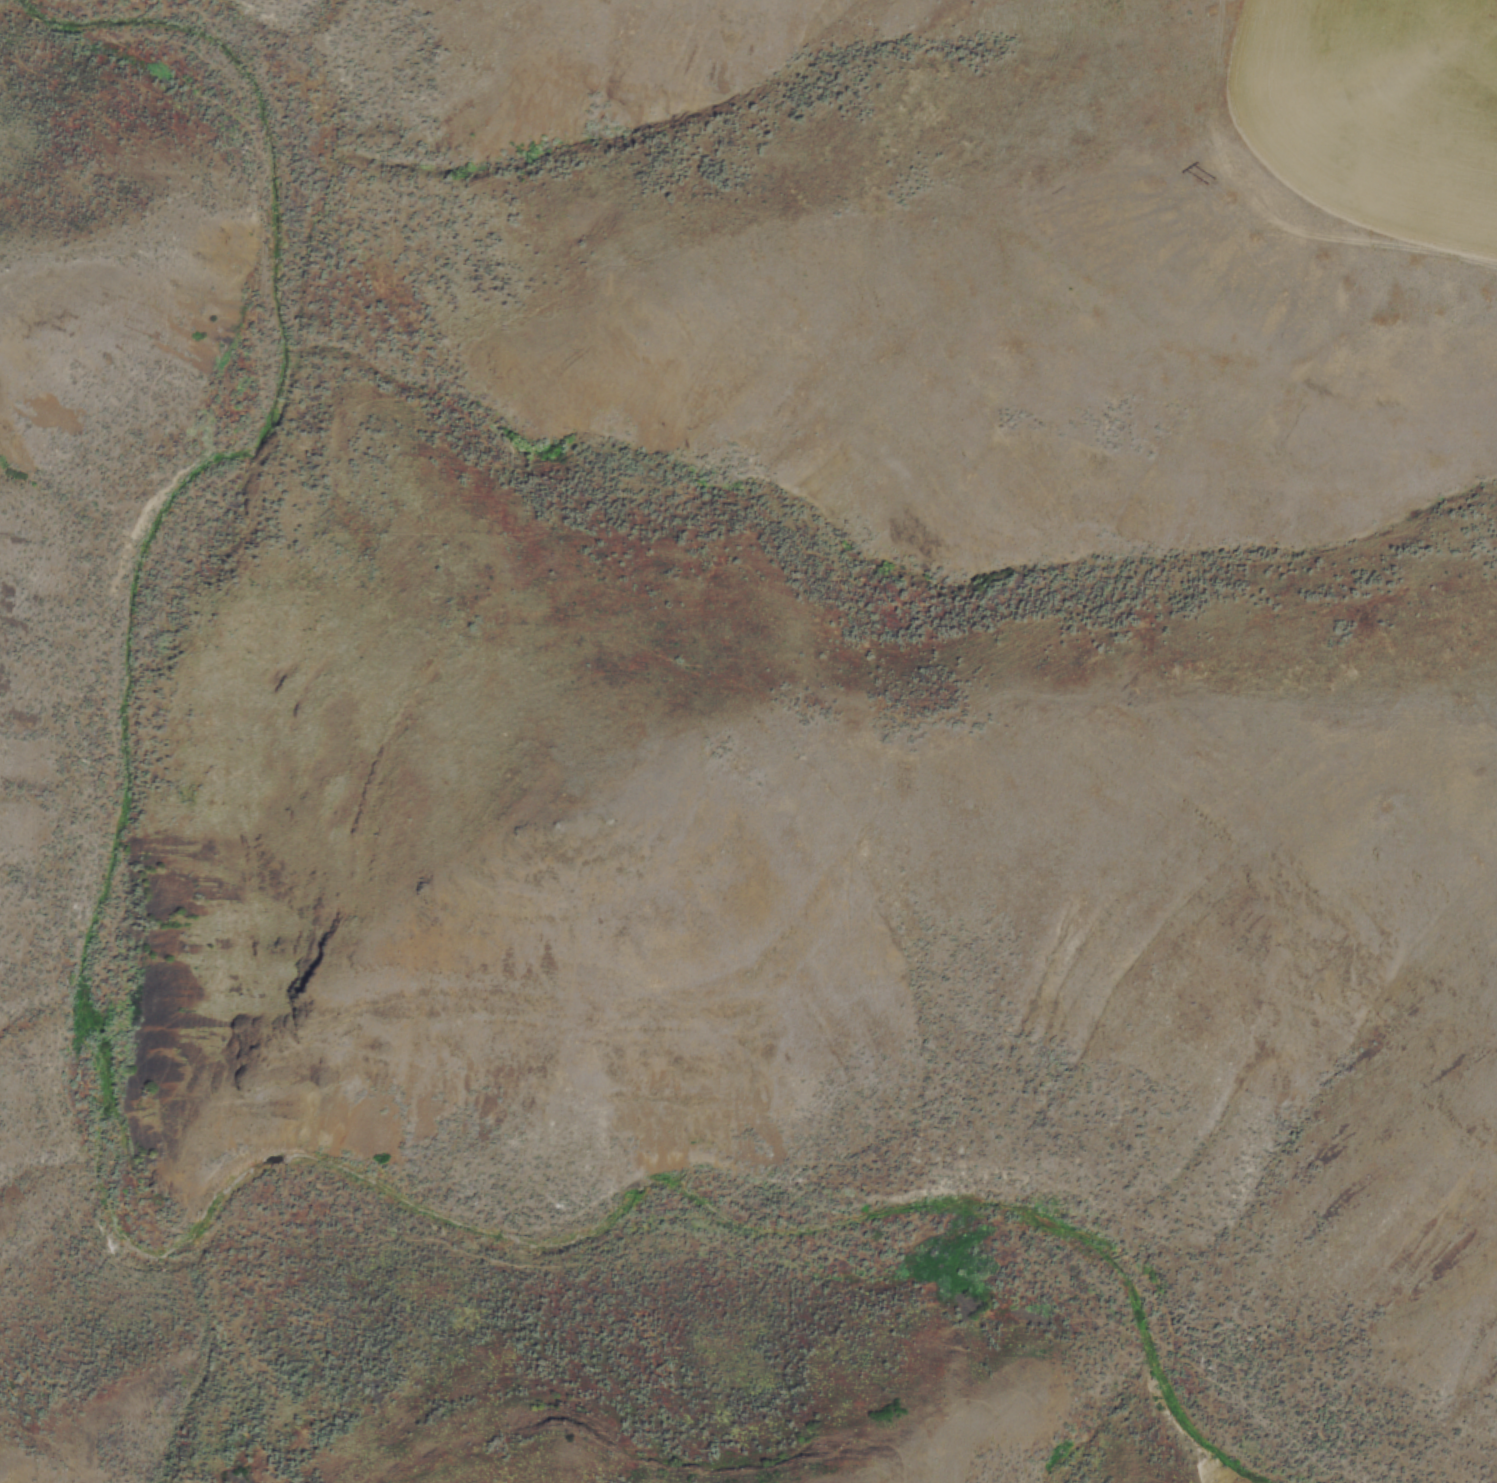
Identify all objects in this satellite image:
power tower: (1212, 180)

